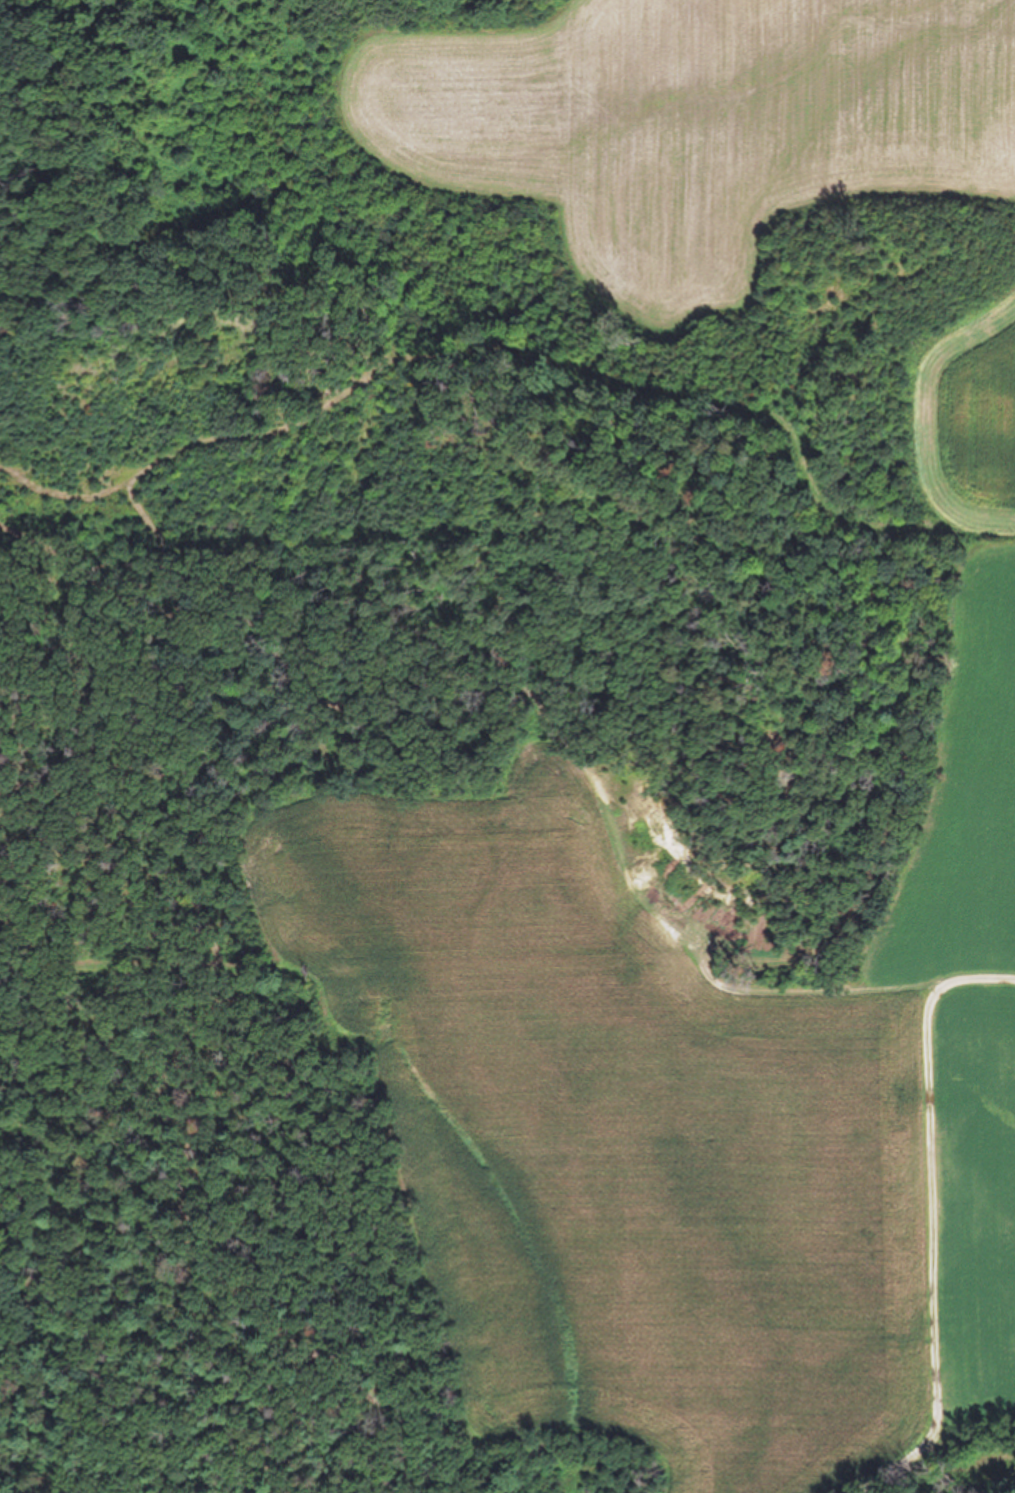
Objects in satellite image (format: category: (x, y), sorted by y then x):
road: (975, 980)

